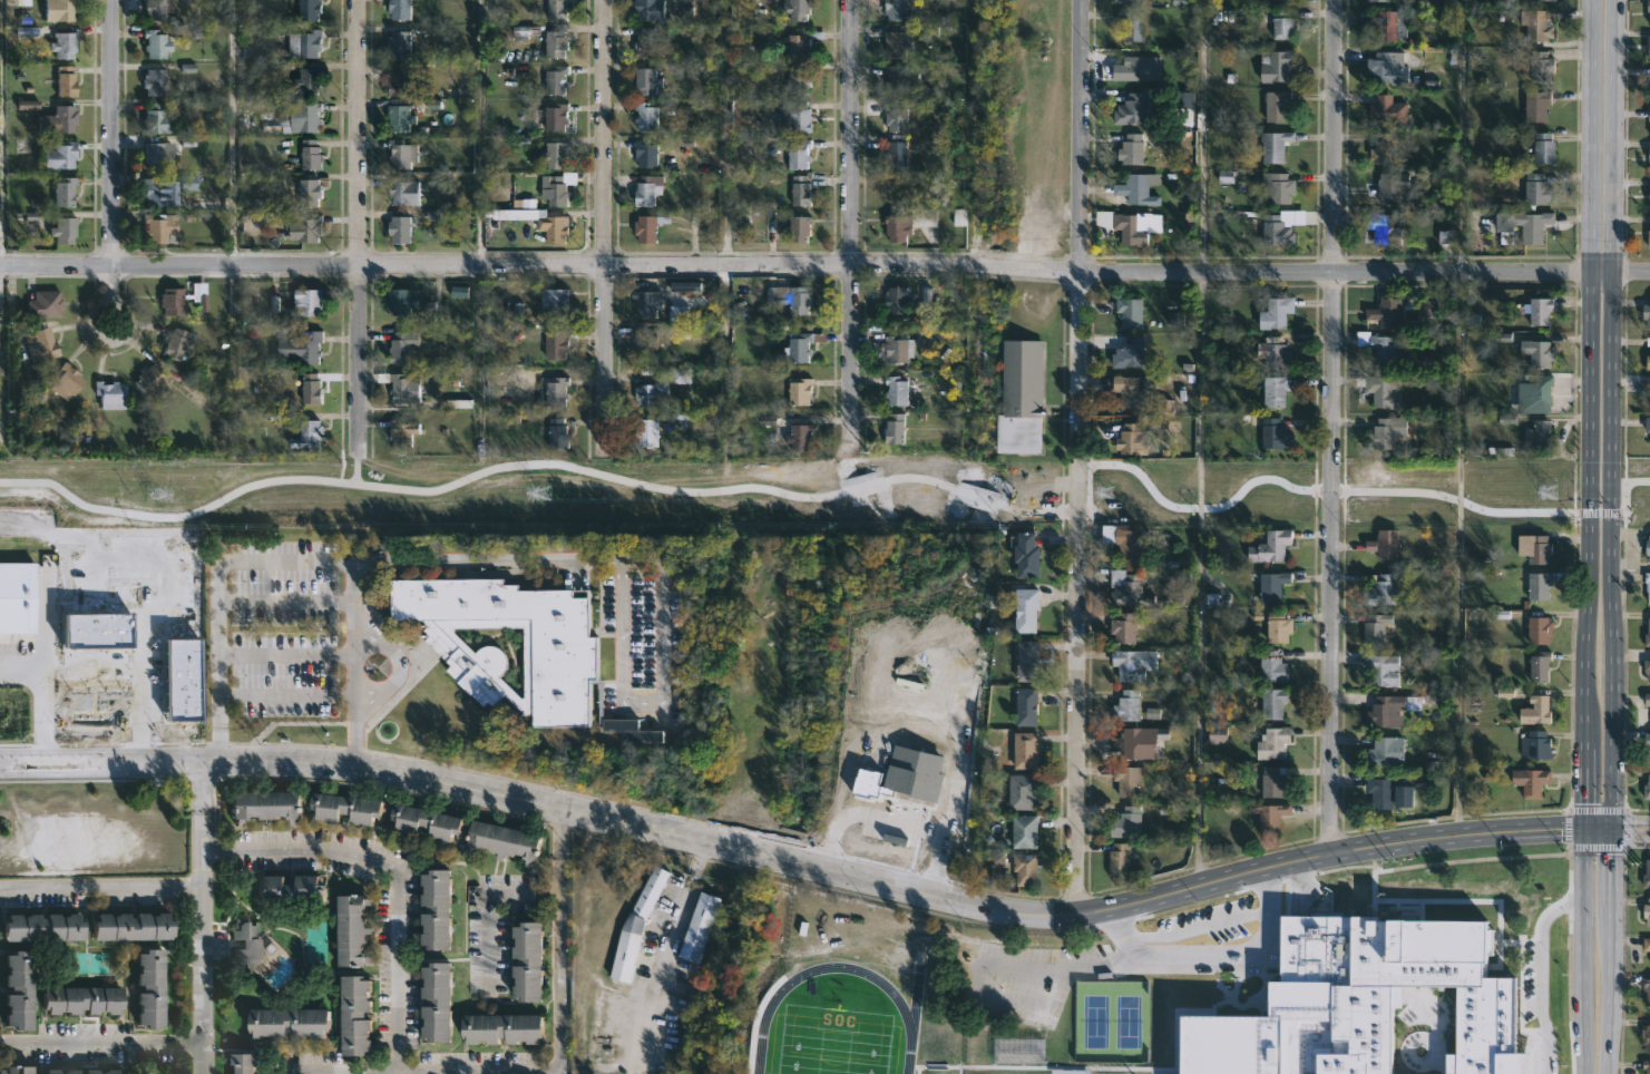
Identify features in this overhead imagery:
building: (1123, 0)
building: (1285, 0)
building: (1375, 0)
building: (1545, 1)
building: (59, 9)
building: (155, 9)
building: (403, 9)
building: (647, 9)
building: (1648, 9)
building: (311, 10)
building: (556, 10)
building: (795, 10)
building: (895, 10)
building: (1532, 23)
building: (1130, 25)
building: (1281, 25)
building: (1386, 25)
building: (307, 42)
building: (157, 43)
building: (401, 43)
building: (800, 43)
building: (64, 45)
building: (557, 45)
building: (642, 45)
building: (895, 45)
building: (1273, 65)
building: (1541, 67)
building: (1385, 69)
building: (402, 79)
building: (558, 80)
building: (645, 80)
building: (895, 80)
building: (65, 81)
building: (155, 81)
building: (310, 81)
building: (798, 81)
building: (1649, 91)
building: (1279, 106)
building: (1535, 106)
building: (1383, 108)
building: (1130, 110)
building: (1649, 116)
building: (644, 117)
building: (799, 117)
building: (300, 118)
building: (402, 118)
building: (555, 118)
building: (157, 119)
building: (58, 120)
building: (894, 120)
road: (232, 131)
road: (479, 131)
road: (724, 131)
road: (1201, 135)
road: (1459, 135)
building: (1278, 145)
building: (1131, 149)
building: (1384, 149)
building: (1544, 149)
building: (644, 153)
building: (312, 154)
building: (401, 154)
building: (798, 154)
building: (60, 155)
building: (553, 155)
building: (895, 155)
building: (1649, 155)
building: (157, 156)
road: (111, 164)
building: (1280, 186)
building: (1132, 187)
building: (643, 189)
building: (1386, 189)
building: (1535, 189)
building: (153, 191)
building: (65, 192)
building: (311, 192)
building: (404, 192)
building: (551, 192)
building: (799, 192)
building: (1649, 201)
road: (850, 217)
road: (606, 222)
building: (541, 223)
road: (358, 224)
building: (1524, 225)
building: (643, 227)
building: (797, 227)
building: (163, 228)
building: (307, 228)
building: (1132, 228)
building: (1381, 228)
building: (64, 230)
building: (401, 230)
building: (896, 230)
building: (1276, 230)
building: (1649, 238)
road: (824, 263)
building: (797, 299)
building: (895, 299)
building: (170, 300)
building: (406, 300)
building: (553, 300)
building: (42, 301)
building: (311, 302)
building: (645, 302)
building: (1539, 309)
building: (1127, 311)
building: (1275, 312)
building: (1386, 312)
building: (1646, 313)
building: (1648, 341)
building: (178, 344)
building: (555, 344)
building: (41, 345)
road: (482, 345)
building: (646, 345)
building: (1377, 345)
building: (799, 346)
building: (897, 346)
building: (303, 348)
building: (401, 349)
building: (1129, 351)
building: (1272, 352)
building: (1536, 352)
building: (1649, 357)
building: (1648, 361)
building: (67, 381)
building: (150, 382)
building: (1648, 383)
building: (1539, 388)
building: (406, 389)
building: (1130, 389)
building: (312, 390)
building: (798, 390)
building: (895, 390)
building: (1275, 390)
building: (1381, 390)
building: (558, 392)
building: (648, 392)
building: (110, 394)
building: (1021, 396)
building: (1649, 396)
road: (1586, 413)
road: (1608, 414)
building: (1648, 424)
road: (1331, 426)
building: (894, 429)
building: (645, 431)
building: (1384, 431)
building: (314, 432)
building: (404, 432)
building: (1270, 432)
building: (558, 433)
building: (1537, 436)
building: (801, 438)
building: (1131, 439)
road: (1080, 456)
road: (516, 465)
road: (357, 466)
road: (1280, 480)
road: (1625, 485)
power tower: (1104, 492)
power tower: (1554, 492)
power tower: (539, 495)
power tower: (158, 498)
road: (1601, 511)
building: (1124, 539)
building: (1269, 546)
building: (1380, 546)
building: (1534, 547)
building: (1646, 547)
building: (1024, 555)
road: (319, 562)
road: (39, 577)
building: (1535, 584)
building: (10, 586)
building: (1271, 586)
building: (1647, 586)
building: (1126, 588)
building: (1378, 590)
road: (284, 602)
building: (1023, 608)
building: (1276, 627)
building: (1125, 628)
building: (1375, 628)
building: (1539, 629)
building: (1647, 633)
building: (562, 651)
road: (284, 655)
building: (1025, 661)
road: (352, 663)
building: (1132, 664)
road: (397, 665)
building: (1539, 665)
building: (1647, 667)
building: (1277, 668)
building: (1381, 670)
road: (284, 694)
road: (43, 699)
building: (1647, 699)
road: (661, 704)
building: (1277, 704)
building: (1024, 706)
building: (1125, 706)
building: (1393, 709)
building: (1533, 712)
building: (632, 730)
building: (1271, 741)
building: (1129, 743)
building: (1535, 745)
building: (1646, 746)
building: (1023, 751)
building: (1384, 751)
building: (1127, 780)
building: (1275, 781)
building: (1527, 782)
road: (202, 788)
building: (1647, 788)
building: (1021, 791)
building: (1385, 794)
building: (265, 808)
road: (1598, 808)
building: (346, 810)
building: (1268, 816)
building: (431, 822)
building: (1125, 822)
road: (1569, 827)
road: (1625, 827)
traffic signals: (1582, 828)
road: (1595, 828)
traffic signals: (1610, 829)
road: (1630, 829)
building: (1023, 831)
road: (555, 832)
building: (509, 841)
road: (1597, 846)
road: (793, 859)
building: (1119, 859)
building: (1023, 868)
road: (393, 872)
building: (1647, 875)
road: (100, 891)
building: (287, 891)
road: (487, 907)
building: (438, 910)
building: (1647, 911)
building: (633, 926)
building: (42, 927)
building: (696, 927)
building: (135, 928)
building: (354, 930)
road: (201, 943)
building: (246, 944)
road: (667, 945)
building: (1647, 945)
road: (1579, 950)
road: (1609, 951)
building: (529, 959)
road: (556, 965)
road: (1544, 977)
building: (147, 986)
building: (16, 988)
building: (1647, 989)
building: (79, 999)
building: (438, 1000)
building: (1361, 1000)
building: (357, 1014)
park: (1092, 1022)
park: (1129, 1022)
building: (294, 1024)
building: (504, 1027)
building: (1646, 1037)
park: (833, 1041)
road: (100, 1043)
building: (244, 1062)
building: (1646, 1065)
building: (16, 1068)
building: (59, 1072)
road: (420, 1072)
road: (488, 1073)

